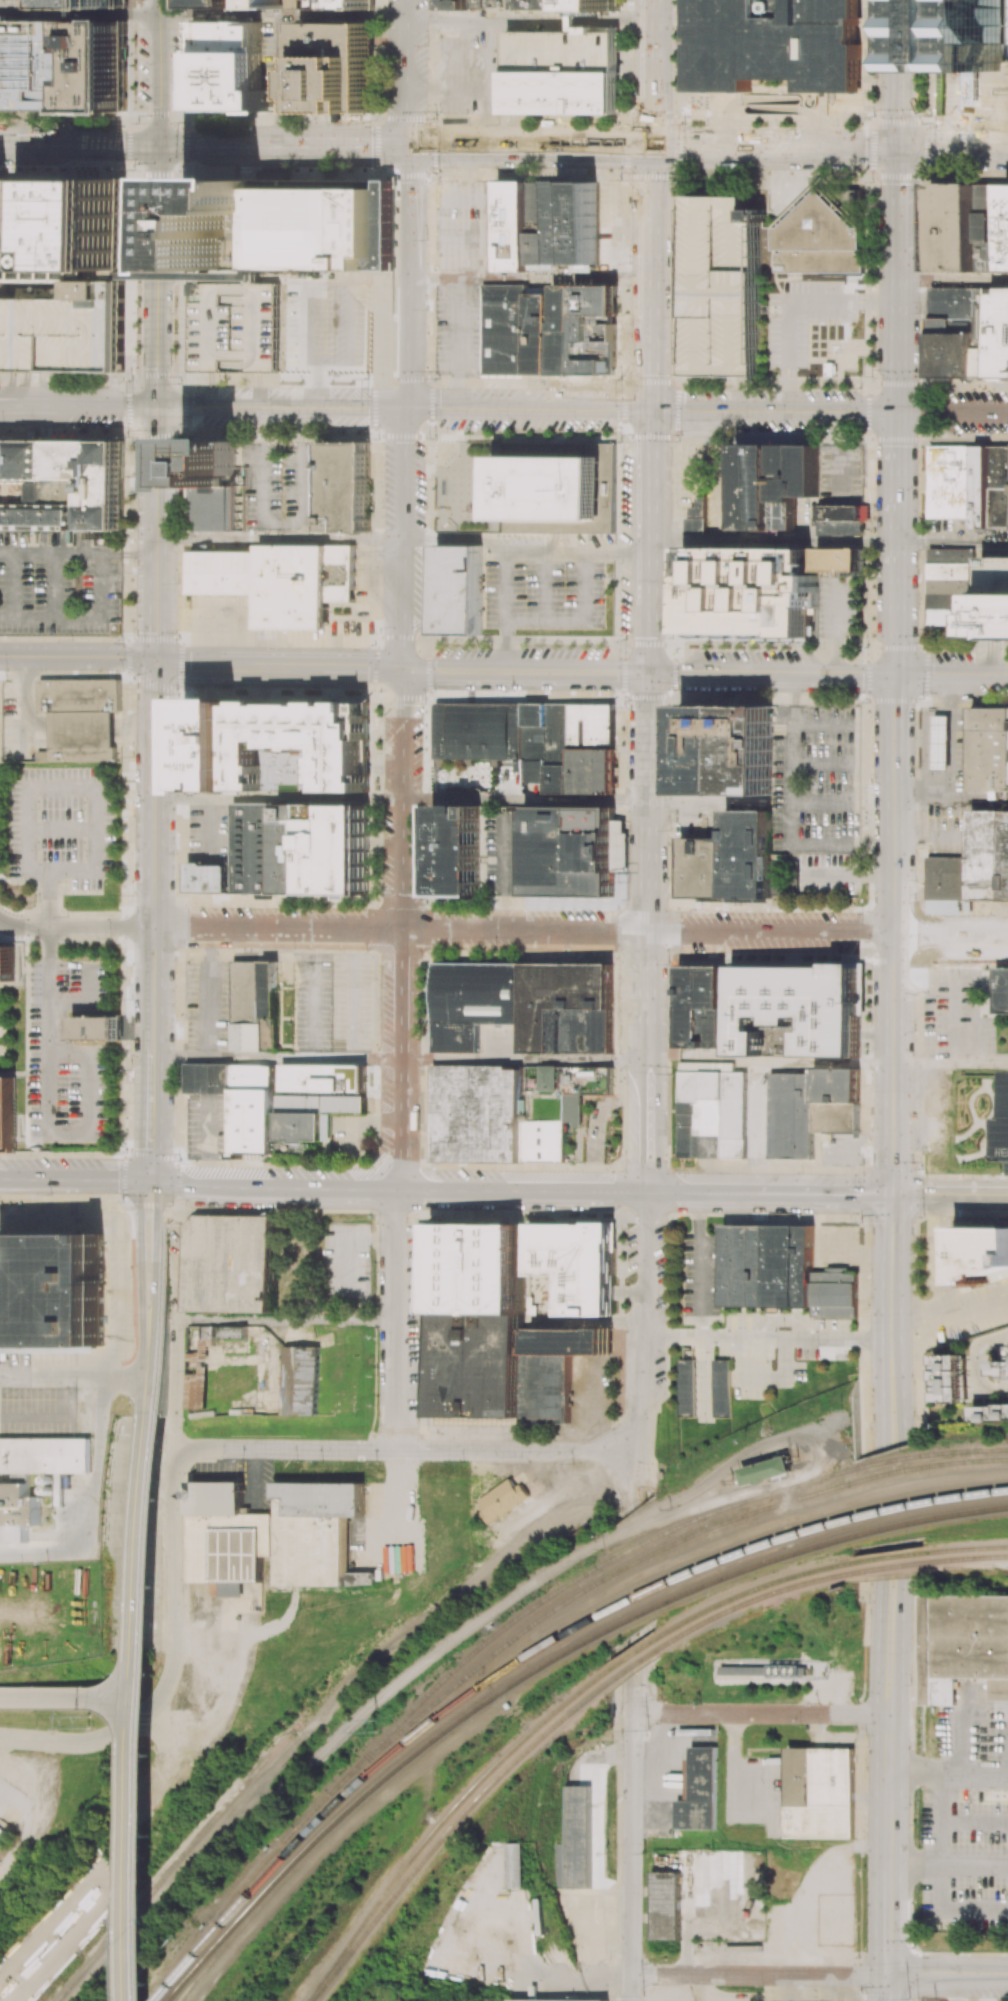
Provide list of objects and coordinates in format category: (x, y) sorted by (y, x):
building: (64, 3)
building: (259, 4)
building: (531, 4)
building: (350, 5)
road: (79, 13)
road: (282, 15)
road: (530, 21)
building: (970, 35)
building: (775, 45)
parking lot: (281, 61)
building: (3, 64)
building: (42, 65)
parking garage: (42, 65)
building: (228, 66)
building: (335, 66)
building: (102, 67)
parking lot: (471, 69)
building: (562, 72)
road: (489, 84)
road: (447, 91)
traffic signals: (159, 146)
traffic signals: (406, 148)
road: (503, 148)
traffic signals: (653, 149)
traffic signals: (901, 151)
road: (157, 202)
building: (217, 216)
building: (542, 223)
building: (576, 223)
building: (323, 226)
parking lot: (467, 226)
building: (513, 226)
building: (129, 227)
parking lot: (610, 227)
building: (60, 228)
building: (993, 228)
building: (957, 229)
building: (823, 234)
building: (1007, 257)
road: (530, 279)
road: (954, 280)
road: (331, 282)
parking lot: (721, 286)
building: (723, 286)
building: (596, 299)
road: (789, 302)
building: (953, 302)
parking lot: (800, 317)
building: (952, 325)
building: (235, 327)
parking garage: (235, 327)
building: (286, 328)
parking lot: (332, 328)
building: (505, 328)
building: (563, 329)
building: (65, 330)
parking lot: (65, 330)
parking lot: (458, 331)
building: (540, 332)
building: (983, 332)
building: (999, 332)
road: (408, 334)
road: (652, 335)
road: (899, 336)
building: (596, 343)
building: (952, 355)
street lamp: (674, 375)
street lamp: (366, 378)
street lamp: (438, 378)
street lamp: (619, 378)
street lamp: (56, 383)
street lamp: (301, 384)
street lamp: (561, 387)
road: (9, 400)
road: (9, 403)
road: (87, 403)
traffic signals: (157, 405)
traffic signals: (407, 407)
road: (527, 409)
traffic signals: (652, 411)
traffic signals: (899, 413)
road: (953, 413)
street lamp: (3, 427)
street lamp: (85, 427)
building: (33, 435)
street lamp: (124, 435)
street lamp: (377, 438)
street lamp: (435, 438)
street lamp: (619, 441)
street lamp: (679, 444)
building: (183, 478)
street lamp: (134, 480)
building: (211, 481)
building: (954, 482)
building: (63, 484)
building: (773, 484)
street lamp: (281, 485)
building: (353, 487)
building: (550, 487)
building: (984, 487)
building: (1000, 487)
street lamp: (385, 507)
building: (697, 518)
building: (839, 520)
road: (156, 533)
road: (455, 537)
road: (279, 538)
road: (774, 541)
road: (953, 542)
road: (50, 553)
road: (128, 553)
road: (578, 553)
building: (952, 555)
building: (839, 559)
road: (505, 566)
road: (595, 567)
street lamp: (132, 570)
building: (952, 570)
road: (378, 573)
parking lot: (545, 579)
building: (280, 580)
road: (594, 580)
street lamp: (177, 582)
road: (12, 585)
road: (54, 585)
parking lot: (56, 586)
street lamp: (75, 586)
building: (952, 586)
building: (461, 589)
building: (750, 593)
building: (951, 601)
flagpole: (340, 611)
building: (996, 616)
road: (6, 617)
road: (88, 617)
building: (952, 617)
road: (224, 630)
street lamp: (424, 633)
street lamp: (132, 634)
parking lot: (319, 634)
street lamp: (671, 637)
street lamp: (71, 639)
street lamp: (623, 639)
road: (505, 640)
road: (78, 656)
traffic signals: (156, 662)
road: (279, 667)
traffic signals: (403, 669)
street lamp: (6, 670)
road: (526, 670)
traffic signals: (650, 671)
street lamp: (121, 672)
road: (773, 672)
traffic signals: (898, 673)
road: (952, 674)
building: (85, 682)
road: (263, 686)
street lamp: (508, 690)
building: (79, 696)
street lamp: (178, 697)
road: (25, 701)
street lamp: (424, 703)
street lamp: (623, 707)
building: (81, 729)
road: (81, 730)
road: (133, 730)
building: (301, 739)
building: (534, 740)
building: (209, 742)
building: (942, 742)
building: (989, 748)
building: (731, 749)
building: (77, 754)
street lamp: (131, 755)
road: (792, 756)
street lamp: (277, 764)
street lamp: (291, 764)
street lamp: (305, 765)
road: (383, 766)
street lamp: (118, 776)
street lamp: (175, 777)
road: (60, 787)
road: (126, 796)
road: (278, 799)
road: (525, 801)
road: (706, 803)
road: (154, 806)
street lamp: (37, 807)
street lamp: (83, 809)
street lamp: (131, 815)
parking lot: (61, 826)
road: (60, 829)
street lamp: (83, 848)
street lamp: (38, 849)
building: (456, 850)
building: (569, 851)
building: (290, 852)
street lamp: (175, 854)
building: (991, 854)
building: (751, 855)
road: (27, 859)
building: (706, 866)
road: (91, 869)
road: (849, 873)
building: (951, 877)
street lamp: (64, 881)
street lamp: (104, 883)
street lamp: (132, 894)
road: (48, 897)
street lamp: (38, 901)
street lamp: (422, 901)
street lamp: (67, 915)
road: (11, 925)
road: (88, 926)
road: (125, 926)
road: (401, 929)
road: (647, 931)
road: (580, 932)
road: (894, 933)
street lamp: (109, 937)
street lamp: (36, 943)
street lamp: (293, 947)
street lamp: (57, 950)
street lamp: (494, 950)
street lamp: (67, 959)
street lamp: (175, 959)
building: (7, 963)
road: (47, 964)
street lamp: (420, 964)
building: (1002, 990)
street lamp: (67, 992)
road: (207, 992)
road: (314, 993)
road: (349, 993)
street lamp: (131, 998)
road: (153, 998)
road: (86, 1002)
building: (525, 1004)
building: (254, 1007)
building: (772, 1010)
road: (46, 1027)
building: (94, 1028)
street lamp: (174, 1038)
road: (124, 1044)
parking lot: (66, 1056)
road: (276, 1058)
road: (523, 1060)
road: (794, 1060)
street lamp: (67, 1062)
road: (951, 1062)
road: (87, 1072)
street lamp: (130, 1074)
building: (323, 1078)
building: (549, 1078)
building: (836, 1101)
building: (253, 1106)
building: (717, 1106)
building: (572, 1109)
road: (152, 1113)
road: (45, 1114)
building: (7, 1115)
building: (792, 1116)
building: (488, 1117)
street lamp: (65, 1124)
building: (687, 1141)
building: (1007, 1148)
street lamp: (124, 1150)
road: (62, 1152)
road: (151, 1155)
street lamp: (180, 1158)
road: (375, 1163)
road: (124, 1176)
road: (76, 1177)
traffic signals: (152, 1182)
road: (178, 1182)
road: (398, 1190)
road: (770, 1193)
traffic signals: (894, 1195)
road: (951, 1195)
street lamp: (121, 1201)
street lamp: (171, 1204)
road: (150, 1206)
road: (259, 1209)
road: (131, 1221)
road: (124, 1241)
building: (982, 1252)
road: (941, 1259)
building: (230, 1262)
building: (747, 1265)
building: (792, 1266)
building: (480, 1270)
building: (575, 1276)
building: (52, 1289)
building: (835, 1293)
road: (151, 1304)
road: (949, 1319)
road: (287, 1320)
road: (892, 1321)
building: (231, 1331)
road: (767, 1338)
building: (567, 1341)
road: (643, 1353)
building: (476, 1365)
road: (979, 1366)
building: (999, 1367)
road: (397, 1368)
building: (198, 1371)
road: (50, 1374)
road: (124, 1377)
building: (948, 1378)
building: (301, 1380)
road: (913, 1387)
building: (547, 1388)
building: (686, 1388)
building: (721, 1388)
road: (864, 1397)
building: (989, 1410)
road: (45, 1413)
road: (406, 1451)
road: (175, 1456)
building: (767, 1470)
building: (41, 1485)
road: (614, 1495)
building: (506, 1498)
road: (93, 1504)
building: (18, 1505)
building: (579, 1532)
building: (269, 1534)
road: (610, 1536)
railway: (638, 1562)
building: (361, 1578)
building: (253, 1595)
railway: (530, 1610)
road: (151, 1611)
building: (964, 1645)
road: (890, 1650)
railway: (529, 1656)
railway: (538, 1669)
building: (761, 1670)
railway: (601, 1680)
street lamp: (909, 1684)
railway: (607, 1687)
road: (632, 1697)
road: (68, 1699)
street lamp: (699, 1701)
road: (324, 1710)
road: (137, 1713)
road: (760, 1714)
power tower: (88, 1717)
power tower: (379, 1719)
road: (859, 1719)
street lamp: (799, 1725)
power tower: (86, 1728)
power tower: (379, 1731)
power tower: (647, 1731)
street lamp: (864, 1734)
road: (98, 1741)
road: (948, 1772)
building: (699, 1790)
road: (889, 1790)
road: (911, 1792)
building: (819, 1793)
street lamp: (909, 1807)
building: (3, 1835)
road: (331, 1840)
building: (574, 1840)
road: (614, 1846)
street lamp: (642, 1852)
road: (631, 1857)
building: (516, 1865)
road: (948, 1868)
street lamp: (864, 1869)
railway: (167, 1872)
road: (807, 1881)
road: (861, 1903)
building: (665, 1905)
road: (956, 1907)
building: (837, 1909)
road: (888, 1922)
street lamp: (913, 1948)
street lamp: (858, 1957)
street lamp: (609, 1959)
road: (759, 1975)
traffic signals: (888, 1977)
road: (948, 1977)
street lamp: (760, 1986)
road: (887, 1989)
street lamp: (860, 1995)
street lamp: (910, 1995)
power tower: (644, 1997)
power tower: (908, 1999)
building: (549, 2000)

